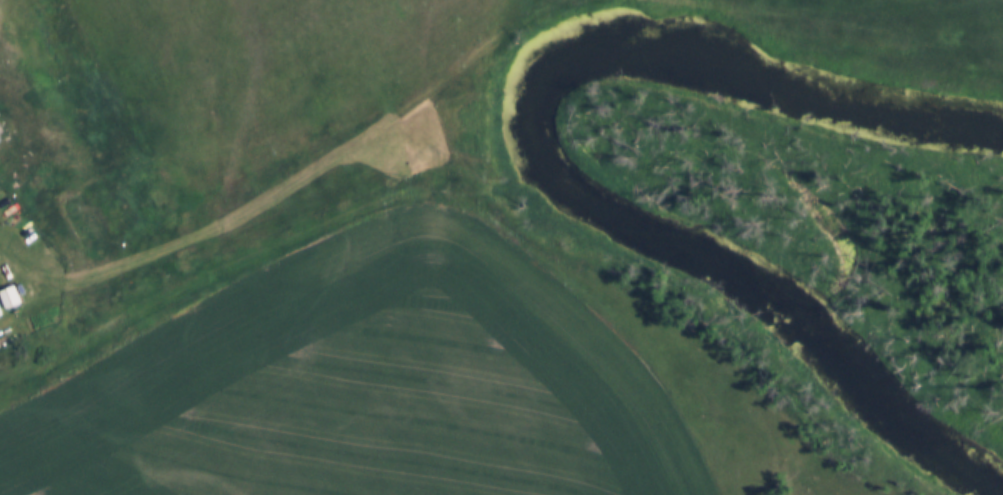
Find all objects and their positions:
building: (1, 138)
river: (527, 160)
road: (2, 266)
building: (11, 298)
building: (1, 313)

